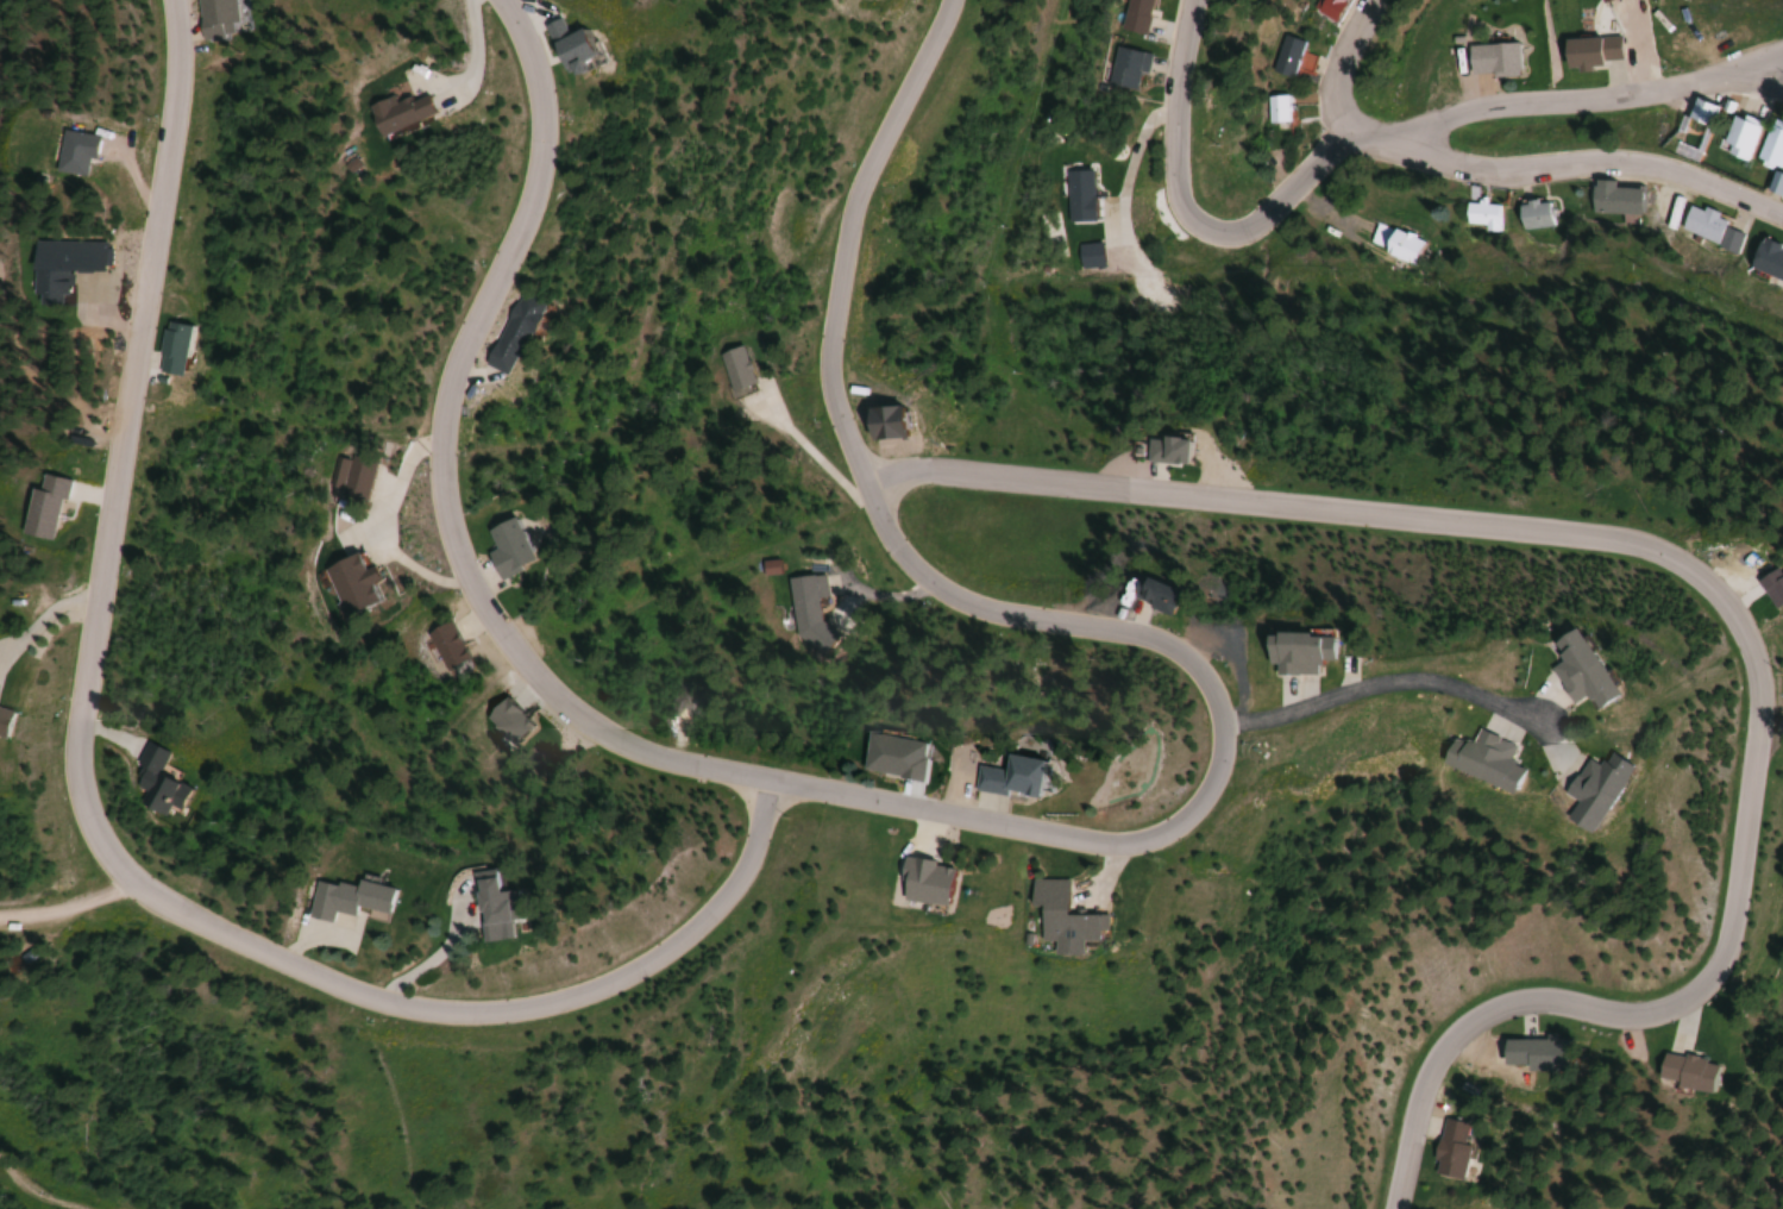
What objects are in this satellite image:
building: (1601, 1)
building: (213, 14)
building: (1132, 15)
road: (187, 30)
building: (1589, 52)
building: (1288, 59)
building: (1489, 59)
road: (1750, 62)
road: (1341, 64)
building: (1124, 67)
road: (1588, 99)
building: (393, 111)
building: (1274, 111)
building: (1737, 137)
road: (1375, 140)
building: (1770, 148)
building: (88, 150)
road: (1595, 159)
road: (139, 175)
building: (1773, 186)
building: (1074, 196)
building: (1614, 200)
road: (1185, 213)
building: (1480, 215)
building: (1532, 215)
building: (1708, 227)
building: (1393, 243)
building: (1766, 261)
building: (509, 331)
building: (167, 346)
road: (145, 358)
building: (730, 368)
building: (1163, 449)
road: (99, 493)
building: (58, 505)
building: (503, 547)
building: (349, 583)
road: (1704, 593)
building: (1149, 595)
building: (804, 600)
road: (45, 621)
road: (467, 622)
building: (442, 644)
building: (1292, 652)
building: (1568, 670)
road: (1380, 682)
road: (521, 688)
building: (13, 716)
building: (507, 719)
road: (107, 734)
building: (890, 757)
building: (1475, 760)
building: (1005, 778)
building: (150, 779)
building: (1578, 790)
road: (1021, 829)
road: (90, 833)
building: (918, 882)
building: (343, 896)
building: (482, 896)
road: (64, 906)
building: (1054, 917)
road: (296, 940)
road: (435, 950)
building: (1530, 1053)
building: (1672, 1071)
building: (1448, 1148)

